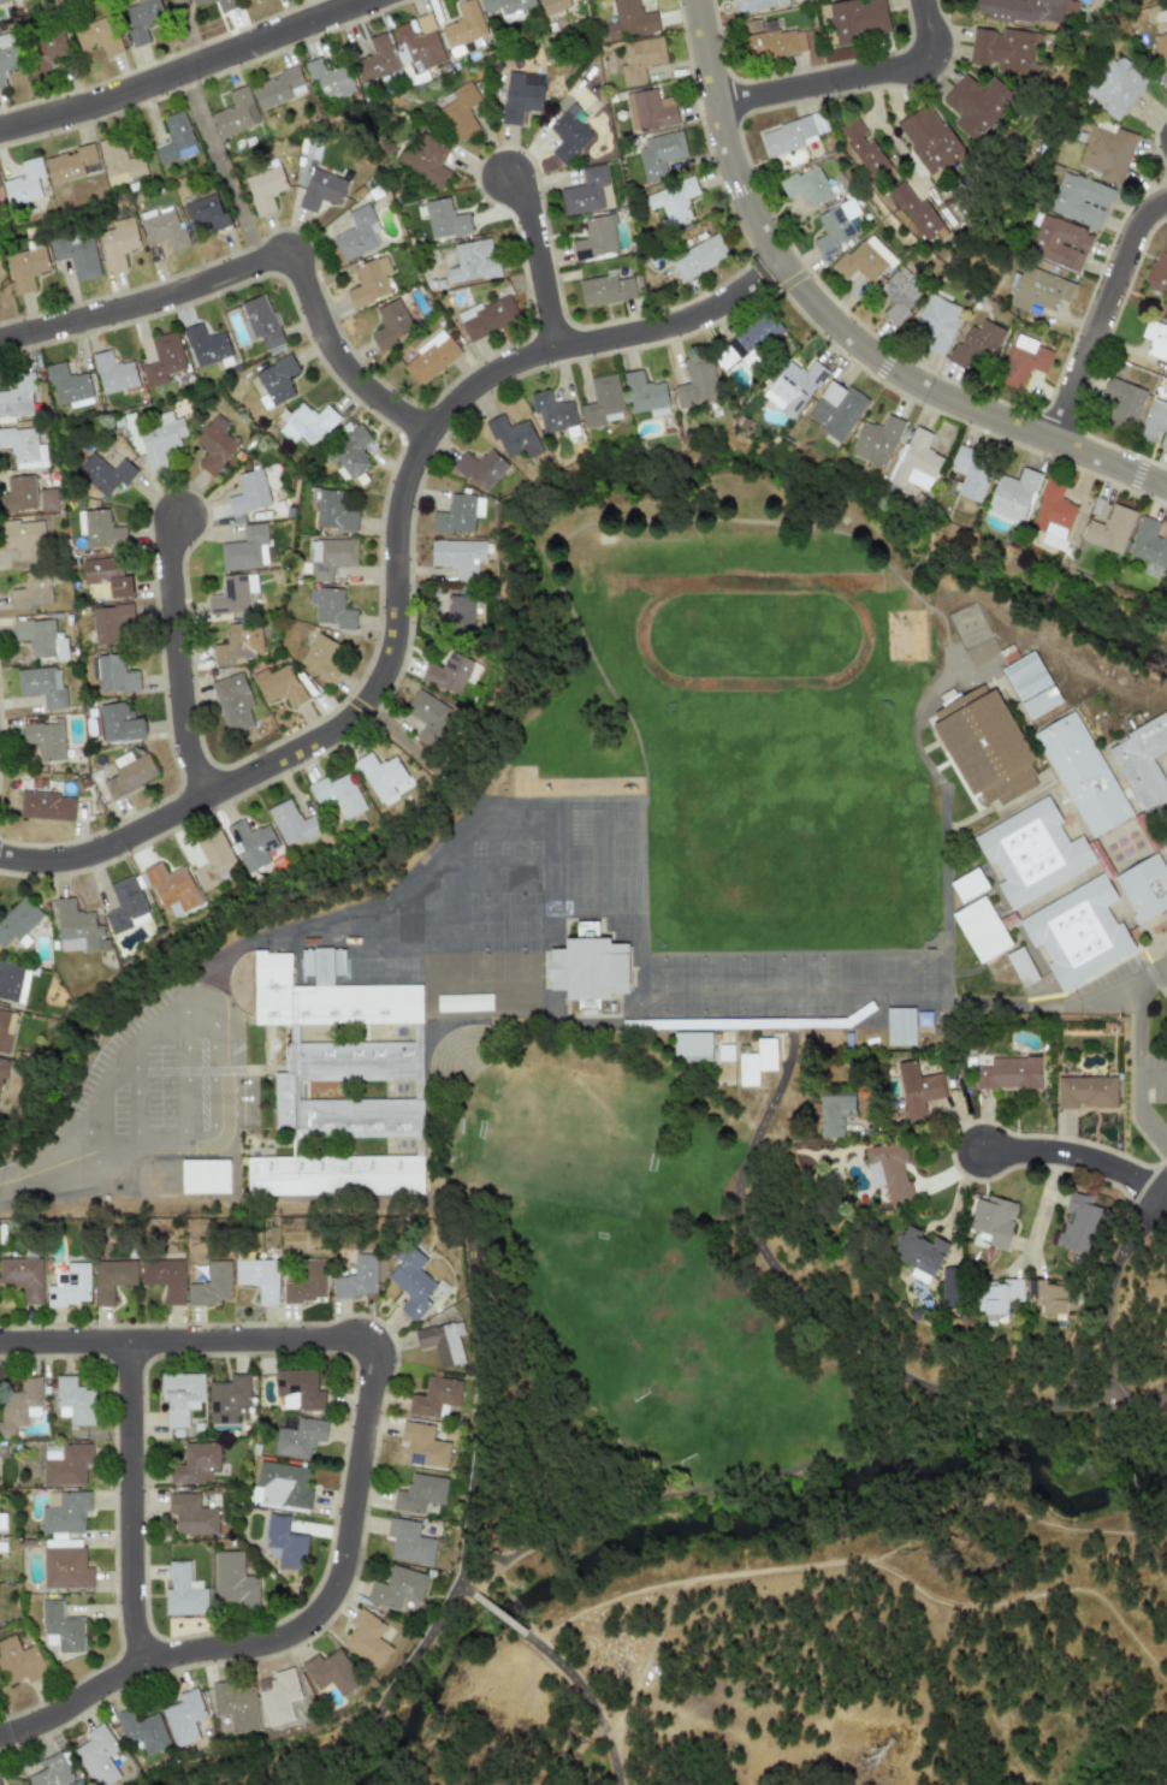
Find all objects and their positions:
building: (13, 0)
building: (1, 1)
building: (199, 1)
building: (225, 5)
building: (553, 5)
building: (757, 5)
building: (505, 7)
building: (1025, 10)
building: (142, 19)
building: (857, 19)
building: (629, 20)
building: (463, 28)
road: (186, 34)
building: (97, 36)
building: (766, 40)
building: (417, 43)
building: (1006, 49)
building: (45, 51)
building: (1161, 54)
building: (6, 55)
building: (640, 59)
road: (189, 71)
building: (328, 78)
road: (853, 79)
building: (1113, 87)
building: (278, 89)
building: (520, 96)
building: (976, 105)
building: (648, 109)
building: (460, 112)
building: (235, 113)
road: (877, 120)
building: (568, 134)
building: (792, 134)
building: (174, 140)
building: (930, 142)
building: (863, 147)
building: (1106, 153)
building: (659, 154)
building: (426, 159)
building: (119, 161)
building: (69, 164)
road: (220, 167)
building: (23, 183)
building: (805, 186)
building: (265, 189)
building: (321, 189)
building: (587, 191)
building: (1079, 200)
building: (671, 201)
building: (206, 213)
building: (919, 217)
building: (444, 219)
building: (834, 226)
building: (162, 229)
building: (356, 233)
building: (594, 238)
building: (1058, 242)
building: (117, 243)
building: (76, 254)
road: (537, 257)
building: (698, 257)
building: (864, 260)
building: (473, 261)
road: (254, 262)
building: (26, 268)
building: (1157, 268)
building: (368, 281)
building: (606, 290)
building: (1037, 290)
building: (899, 293)
building: (486, 318)
road: (1103, 318)
building: (260, 321)
building: (936, 322)
building: (390, 324)
road: (837, 327)
building: (753, 337)
building: (1155, 340)
building: (206, 345)
building: (976, 345)
building: (162, 358)
building: (430, 358)
building: (1021, 361)
building: (1166, 369)
building: (113, 373)
building: (277, 379)
building: (695, 382)
building: (67, 386)
building: (793, 386)
building: (645, 395)
building: (17, 396)
building: (602, 402)
building: (1121, 403)
building: (835, 410)
building: (551, 413)
building: (307, 423)
building: (1155, 423)
building: (513, 437)
building: (159, 438)
building: (876, 441)
building: (213, 445)
building: (23, 447)
building: (349, 453)
building: (914, 462)
building: (479, 468)
building: (971, 473)
building: (103, 474)
building: (19, 493)
building: (248, 493)
building: (1012, 496)
building: (47, 499)
building: (330, 510)
building: (1052, 510)
building: (457, 514)
building: (1108, 529)
building: (102, 530)
building: (25, 538)
building: (1149, 542)
building: (245, 548)
building: (457, 556)
building: (328, 557)
building: (102, 569)
road: (393, 574)
building: (122, 588)
building: (1166, 588)
building: (32, 591)
building: (232, 594)
building: (331, 607)
building: (455, 613)
building: (108, 623)
track: (639, 633)
building: (36, 636)
building: (237, 644)
building: (320, 658)
road: (174, 659)
building: (450, 672)
building: (115, 676)
building: (1036, 680)
building: (42, 686)
building: (278, 686)
building: (232, 702)
building: (427, 716)
building: (120, 724)
building: (48, 739)
road: (398, 739)
building: (983, 742)
building: (1144, 758)
building: (1086, 769)
building: (129, 773)
building: (379, 775)
road: (454, 782)
building: (337, 794)
building: (46, 806)
building: (291, 824)
building: (1162, 843)
building: (250, 844)
building: (1037, 849)
building: (211, 859)
building: (1148, 882)
building: (967, 885)
building: (171, 889)
building: (125, 906)
building: (18, 921)
building: (1084, 926)
building: (77, 927)
building: (981, 930)
building: (599, 961)
road: (1149, 977)
building: (13, 982)
road: (1114, 996)
building: (337, 997)
building: (899, 1026)
road: (212, 1028)
building: (5, 1030)
building: (691, 1046)
building: (756, 1061)
building: (1, 1069)
road: (179, 1073)
building: (1008, 1073)
road: (1135, 1073)
road: (1151, 1075)
building: (291, 1089)
building: (917, 1089)
building: (1084, 1091)
road: (136, 1095)
building: (834, 1113)
road: (1073, 1157)
road: (58, 1168)
building: (195, 1172)
building: (888, 1172)
building: (342, 1173)
road: (1162, 1190)
road: (1042, 1205)
road: (219, 1208)
building: (991, 1222)
building: (1078, 1223)
building: (918, 1253)
building: (22, 1277)
building: (164, 1277)
building: (257, 1277)
building: (357, 1277)
building: (109, 1279)
building: (410, 1281)
building: (306, 1282)
building: (211, 1285)
building: (69, 1286)
building: (949, 1288)
building: (1050, 1295)
building: (997, 1297)
road: (1104, 1312)
building: (442, 1341)
building: (179, 1396)
building: (433, 1396)
building: (227, 1399)
building: (75, 1401)
road: (1156, 1404)
building: (19, 1405)
building: (298, 1437)
building: (422, 1445)
building: (64, 1463)
building: (195, 1464)
road: (793, 1471)
road: (357, 1473)
building: (280, 1484)
building: (419, 1493)
road: (131, 1504)
building: (65, 1512)
building: (190, 1514)
building: (284, 1542)
building: (408, 1542)
road: (464, 1544)
road: (863, 1561)
building: (64, 1564)
building: (233, 1581)
building: (396, 1588)
road: (469, 1589)
building: (182, 1591)
road: (503, 1613)
building: (61, 1627)
building: (366, 1638)
building: (19, 1661)
building: (330, 1672)
building: (277, 1696)
road: (590, 1700)
building: (233, 1706)
building: (183, 1718)
building: (141, 1731)
building: (96, 1756)

